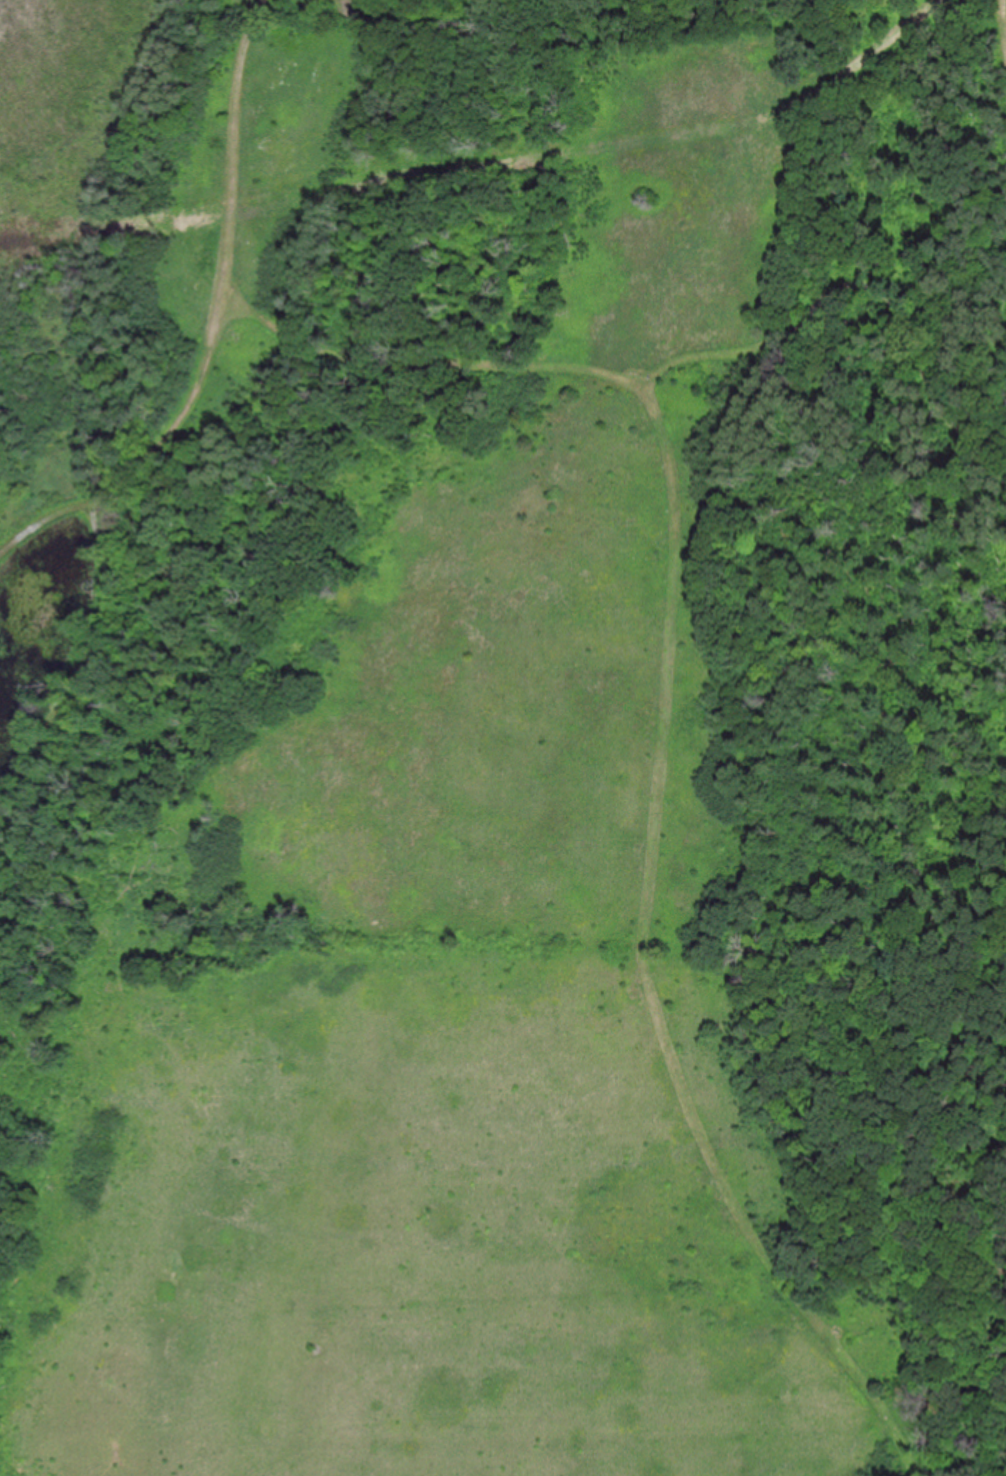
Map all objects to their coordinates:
road: (1004, 12)
road: (237, 158)
road: (846, 290)
road: (432, 350)
road: (139, 460)
road: (98, 666)
park: (503, 738)
road: (647, 961)

